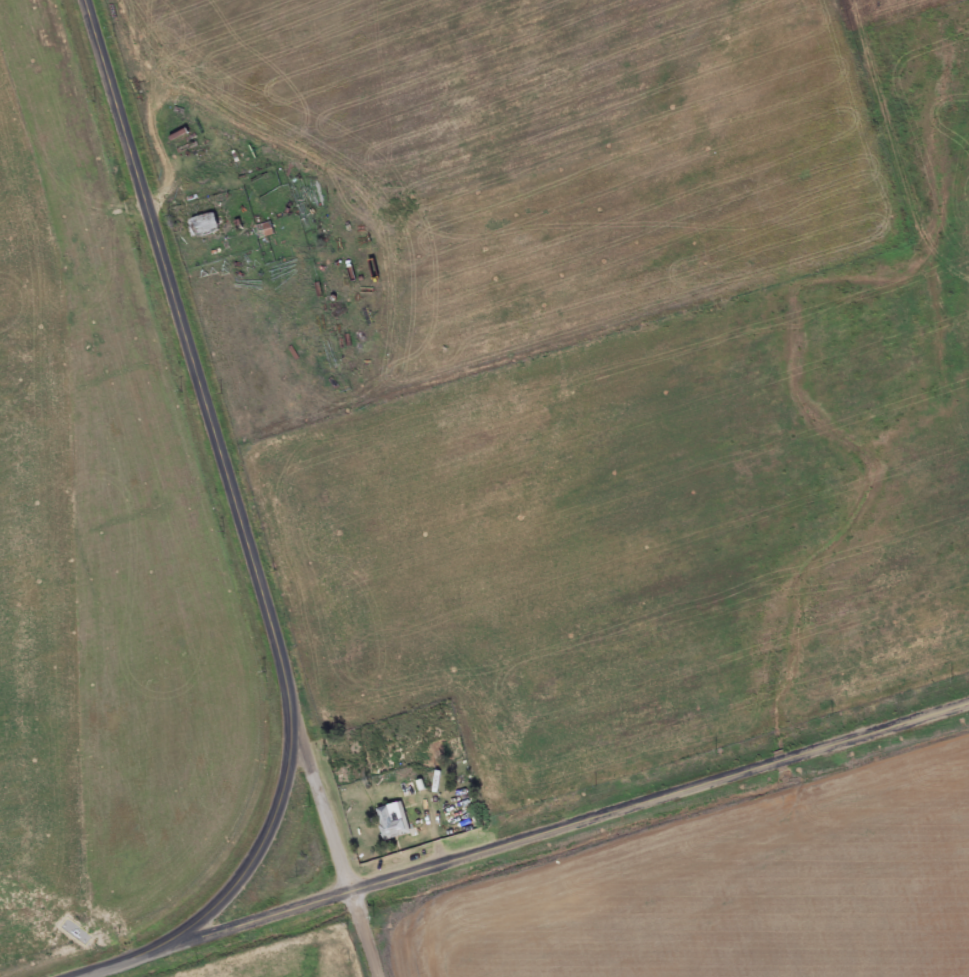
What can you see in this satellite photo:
building: (205, 227)
road: (250, 533)
building: (420, 782)
road: (336, 821)
building: (393, 823)
road: (558, 832)

